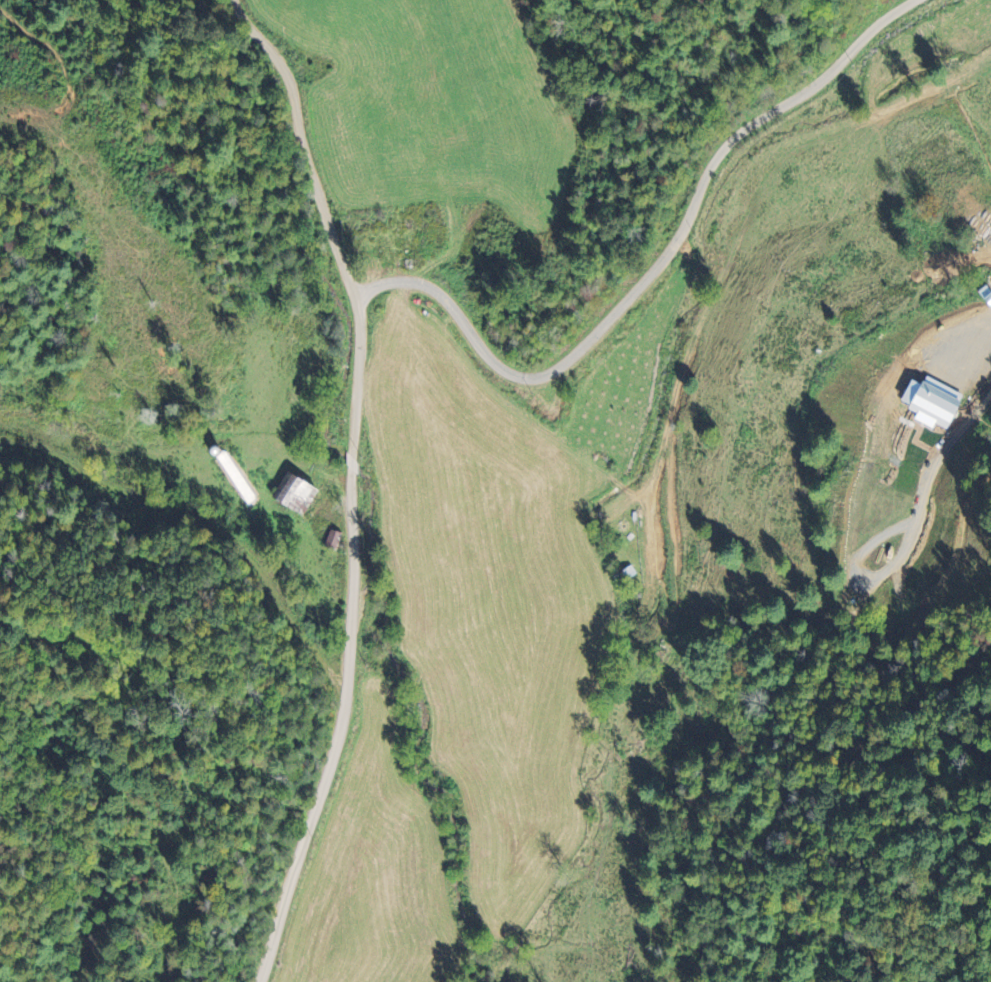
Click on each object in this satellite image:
road: (303, 140)
road: (653, 267)
building: (964, 364)
building: (929, 402)
building: (291, 494)
road: (349, 642)

